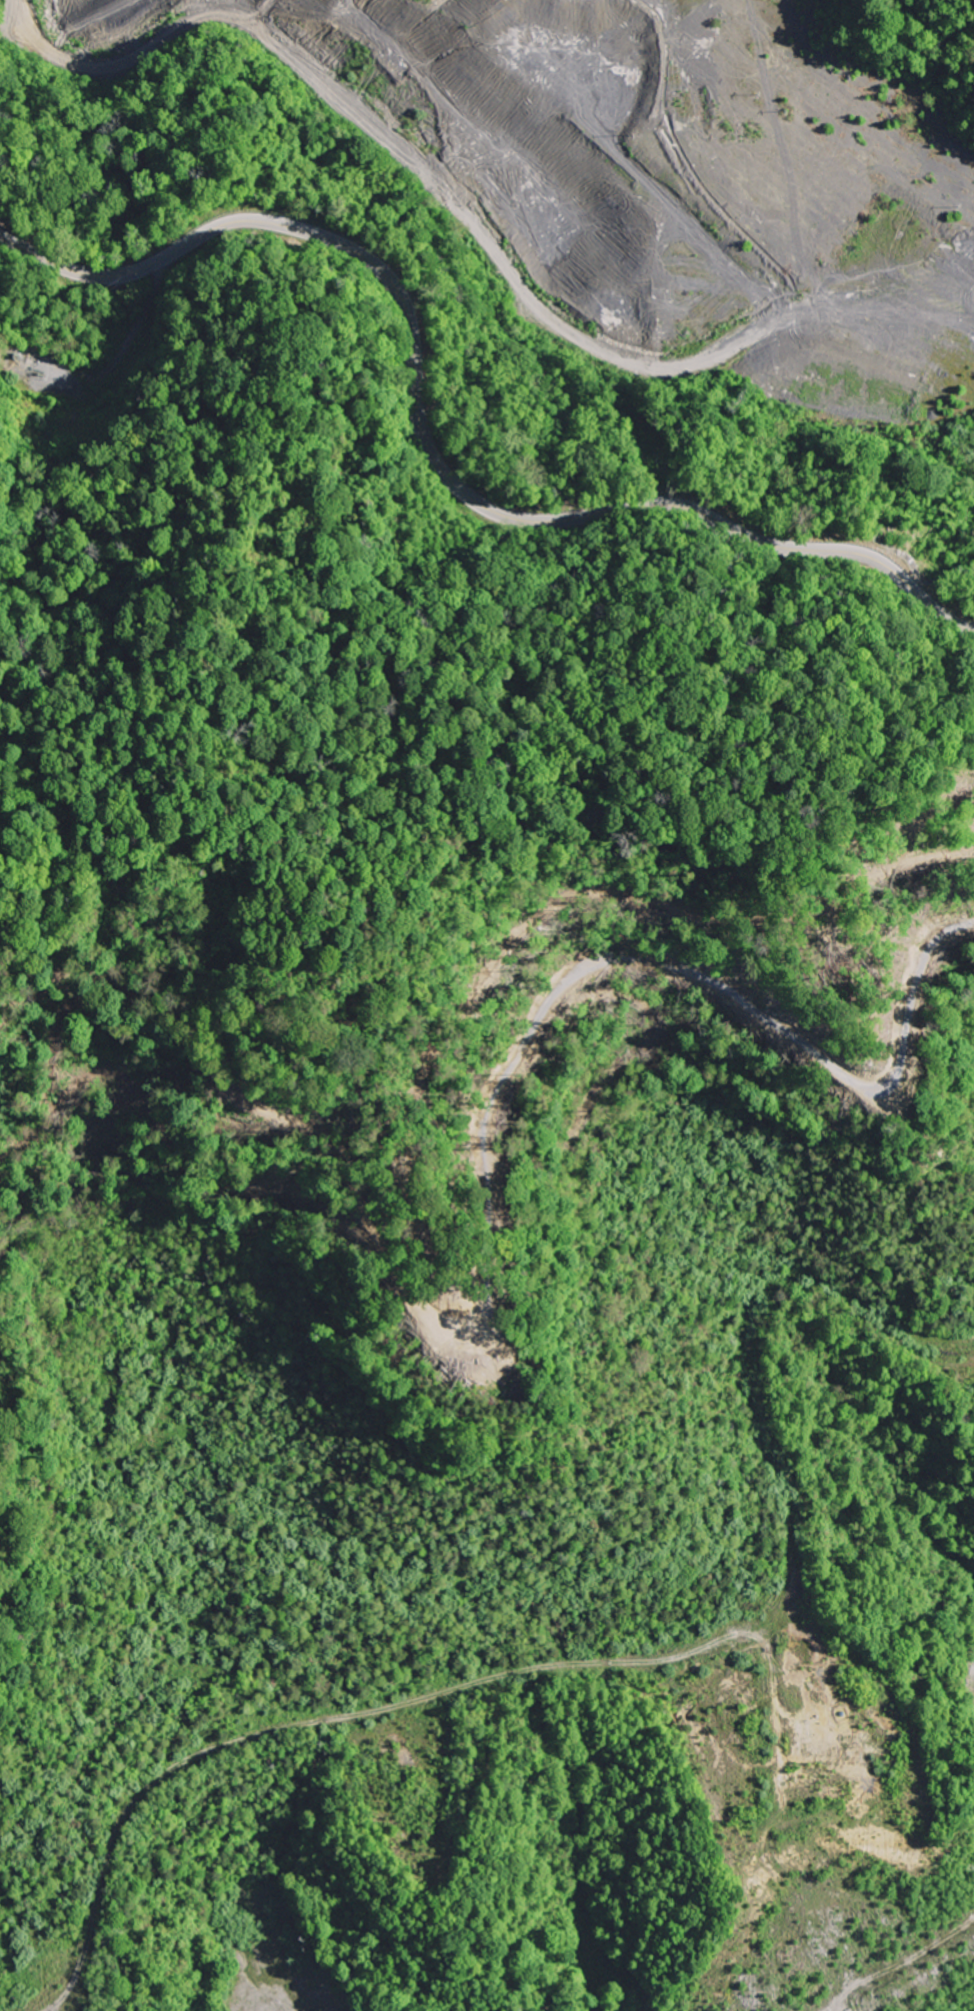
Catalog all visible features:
road: (447, 450)
road: (606, 1664)

